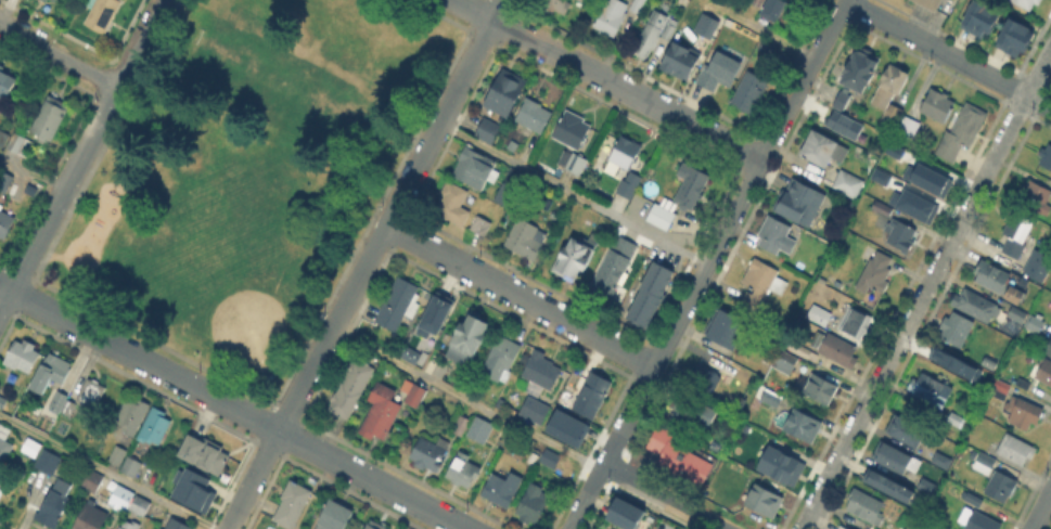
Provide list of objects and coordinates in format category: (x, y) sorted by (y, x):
building: (53, 0)
building: (810, 1)
building: (757, 2)
building: (930, 3)
building: (1027, 3)
building: (553, 5)
building: (638, 5)
building: (776, 7)
building: (102, 14)
building: (975, 16)
building: (611, 18)
road: (946, 24)
building: (705, 25)
road: (757, 29)
building: (651, 35)
building: (1011, 35)
building: (768, 48)
road: (947, 54)
road: (57, 55)
building: (677, 61)
building: (860, 70)
building: (718, 72)
road: (608, 80)
building: (5, 81)
park: (282, 81)
building: (751, 91)
building: (507, 93)
building: (838, 99)
building: (889, 99)
building: (938, 106)
building: (51, 117)
building: (535, 117)
building: (841, 122)
building: (908, 129)
building: (488, 131)
building: (573, 131)
building: (962, 133)
building: (3, 138)
building: (23, 145)
building: (892, 149)
building: (824, 151)
road: (80, 154)
building: (626, 154)
building: (1046, 157)
building: (575, 164)
building: (476, 170)
road: (31, 171)
park: (248, 172)
building: (877, 175)
building: (925, 177)
building: (4, 180)
building: (629, 186)
building: (691, 188)
building: (846, 188)
building: (510, 189)
road: (573, 193)
building: (1036, 198)
building: (800, 201)
building: (911, 204)
building: (453, 205)
building: (883, 209)
building: (662, 217)
building: (4, 222)
building: (482, 227)
building: (1017, 234)
building: (776, 236)
building: (901, 236)
building: (526, 240)
building: (575, 258)
road: (364, 263)
road: (706, 264)
building: (1038, 266)
building: (614, 269)
building: (876, 273)
building: (995, 278)
building: (761, 284)
road: (925, 287)
road: (520, 295)
building: (652, 296)
building: (1016, 297)
building: (399, 306)
building: (980, 308)
building: (816, 313)
building: (432, 315)
building: (1026, 320)
building: (858, 324)
building: (726, 330)
building: (956, 330)
building: (465, 337)
building: (838, 351)
building: (1049, 351)
building: (407, 353)
building: (22, 356)
building: (501, 360)
building: (986, 361)
building: (951, 362)
building: (786, 364)
building: (52, 371)
building: (542, 372)
building: (1046, 373)
building: (976, 374)
building: (702, 383)
building: (1023, 385)
building: (351, 389)
building: (818, 389)
building: (931, 390)
building: (1000, 390)
building: (414, 395)
building: (89, 396)
building: (593, 397)
building: (770, 397)
road: (465, 398)
building: (2, 402)
building: (63, 404)
road: (231, 407)
building: (535, 411)
building: (382, 413)
building: (692, 414)
building: (1022, 414)
building: (132, 415)
building: (956, 421)
building: (459, 424)
building: (565, 426)
building: (803, 427)
building: (155, 428)
building: (907, 430)
building: (480, 431)
building: (4, 443)
building: (205, 450)
building: (1016, 450)
building: (428, 452)
building: (117, 455)
building: (547, 456)
building: (893, 456)
building: (679, 457)
building: (938, 459)
building: (48, 461)
building: (985, 463)
building: (778, 464)
building: (132, 467)
building: (464, 472)
road: (106, 473)
building: (1, 475)
building: (93, 481)
building: (924, 485)
building: (889, 486)
building: (193, 487)
building: (2, 488)
building: (1001, 488)
building: (502, 490)
building: (956, 490)
road: (665, 494)
building: (118, 495)
building: (972, 501)
building: (766, 502)
building: (55, 503)
building: (293, 505)
building: (534, 505)
building: (139, 507)
building: (866, 507)
road: (1040, 509)
building: (627, 514)
building: (90, 516)
building: (335, 517)
building: (977, 520)
building: (177, 524)
building: (130, 525)
building: (375, 526)
building: (118, 528)
building: (841, 528)

